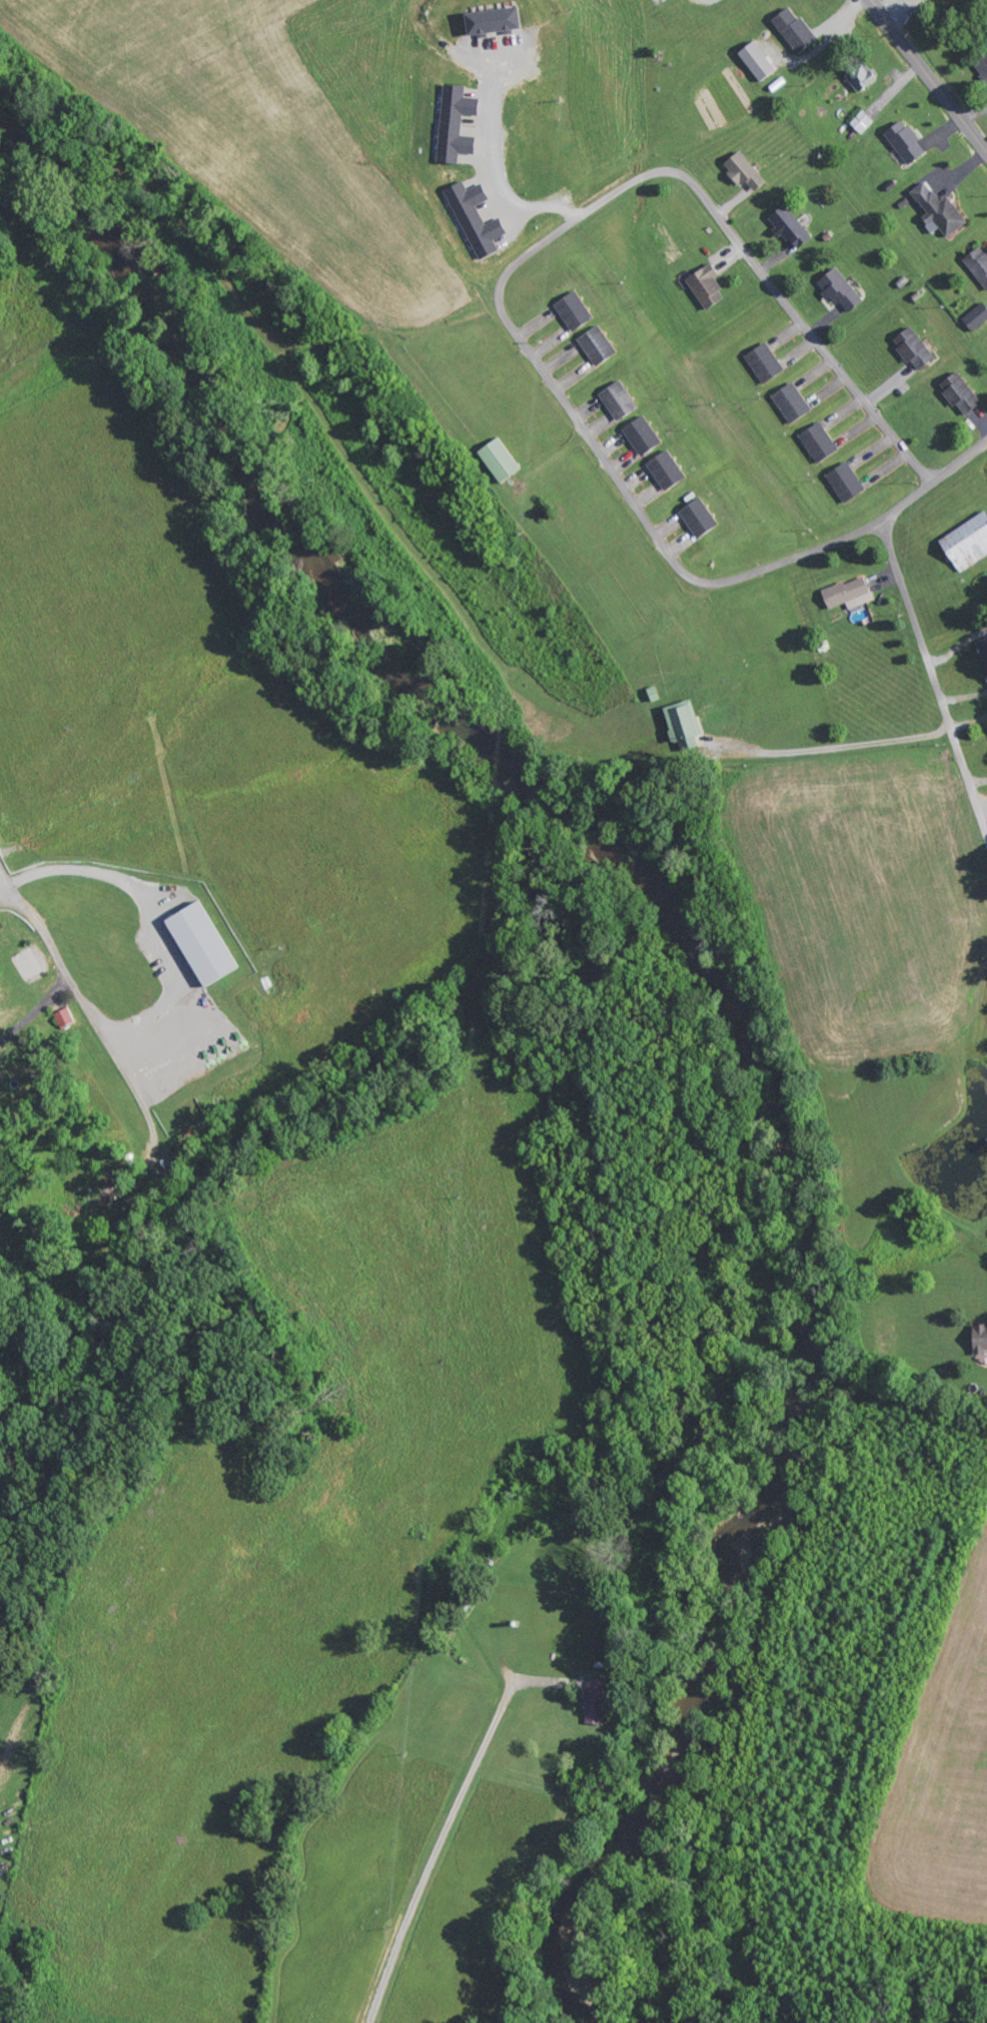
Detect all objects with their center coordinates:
building: (656, 1)
building: (489, 20)
building: (791, 28)
building: (754, 60)
building: (982, 67)
building: (859, 76)
road: (928, 76)
building: (859, 122)
building: (453, 124)
building: (902, 141)
building: (740, 170)
building: (934, 210)
building: (473, 218)
building: (788, 227)
road: (519, 261)
building: (977, 264)
building: (704, 286)
building: (838, 290)
building: (572, 310)
building: (975, 317)
building: (595, 345)
building: (912, 348)
building: (762, 363)
building: (959, 393)
building: (616, 400)
building: (789, 402)
building: (640, 435)
building: (816, 442)
building: (497, 460)
building: (664, 470)
road: (935, 480)
building: (843, 482)
building: (696, 518)
building: (965, 543)
building: (845, 593)
building: (983, 654)
road: (933, 678)
building: (680, 721)
building: (198, 944)
building: (64, 1017)
building: (978, 1339)
building: (592, 1701)

